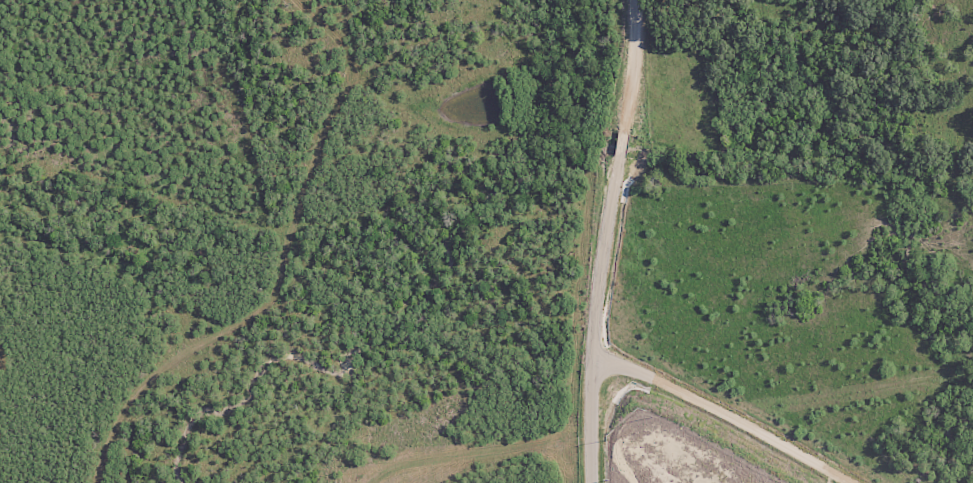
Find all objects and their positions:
road: (609, 240)
road: (728, 411)

